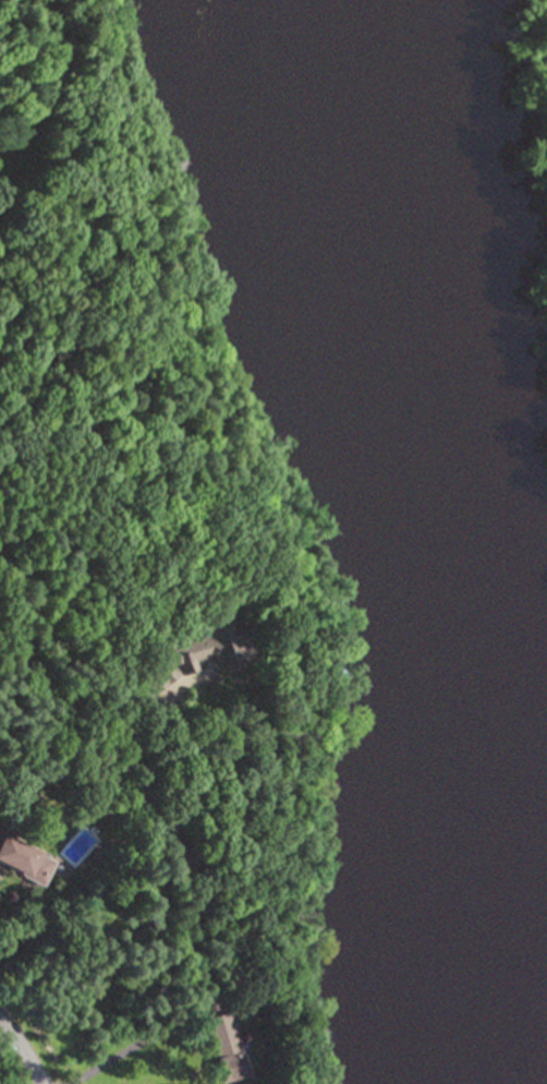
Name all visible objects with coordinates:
river: (416, 511)
building: (204, 649)
building: (160, 672)
building: (20, 859)
building: (220, 1048)
road: (24, 1049)

